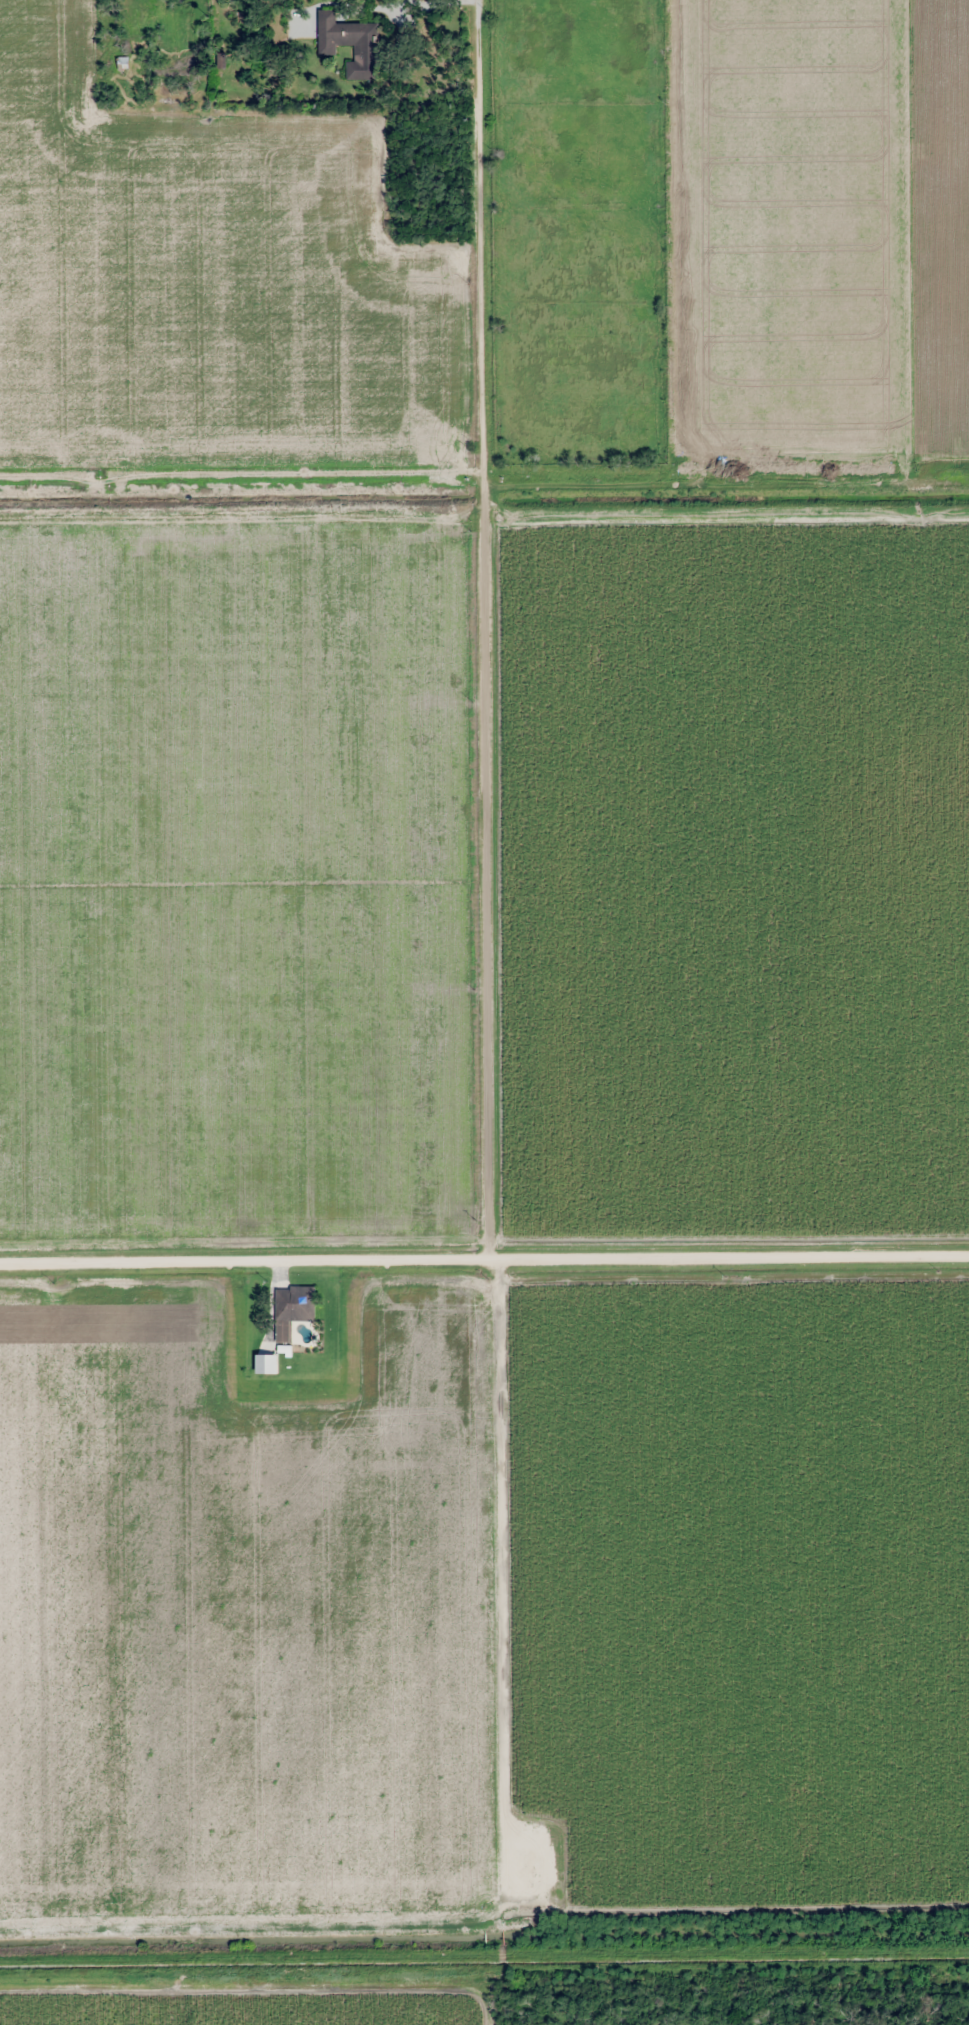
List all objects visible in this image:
building: (350, 43)
building: (121, 62)
road: (484, 629)
road: (484, 1260)
building: (293, 1309)

